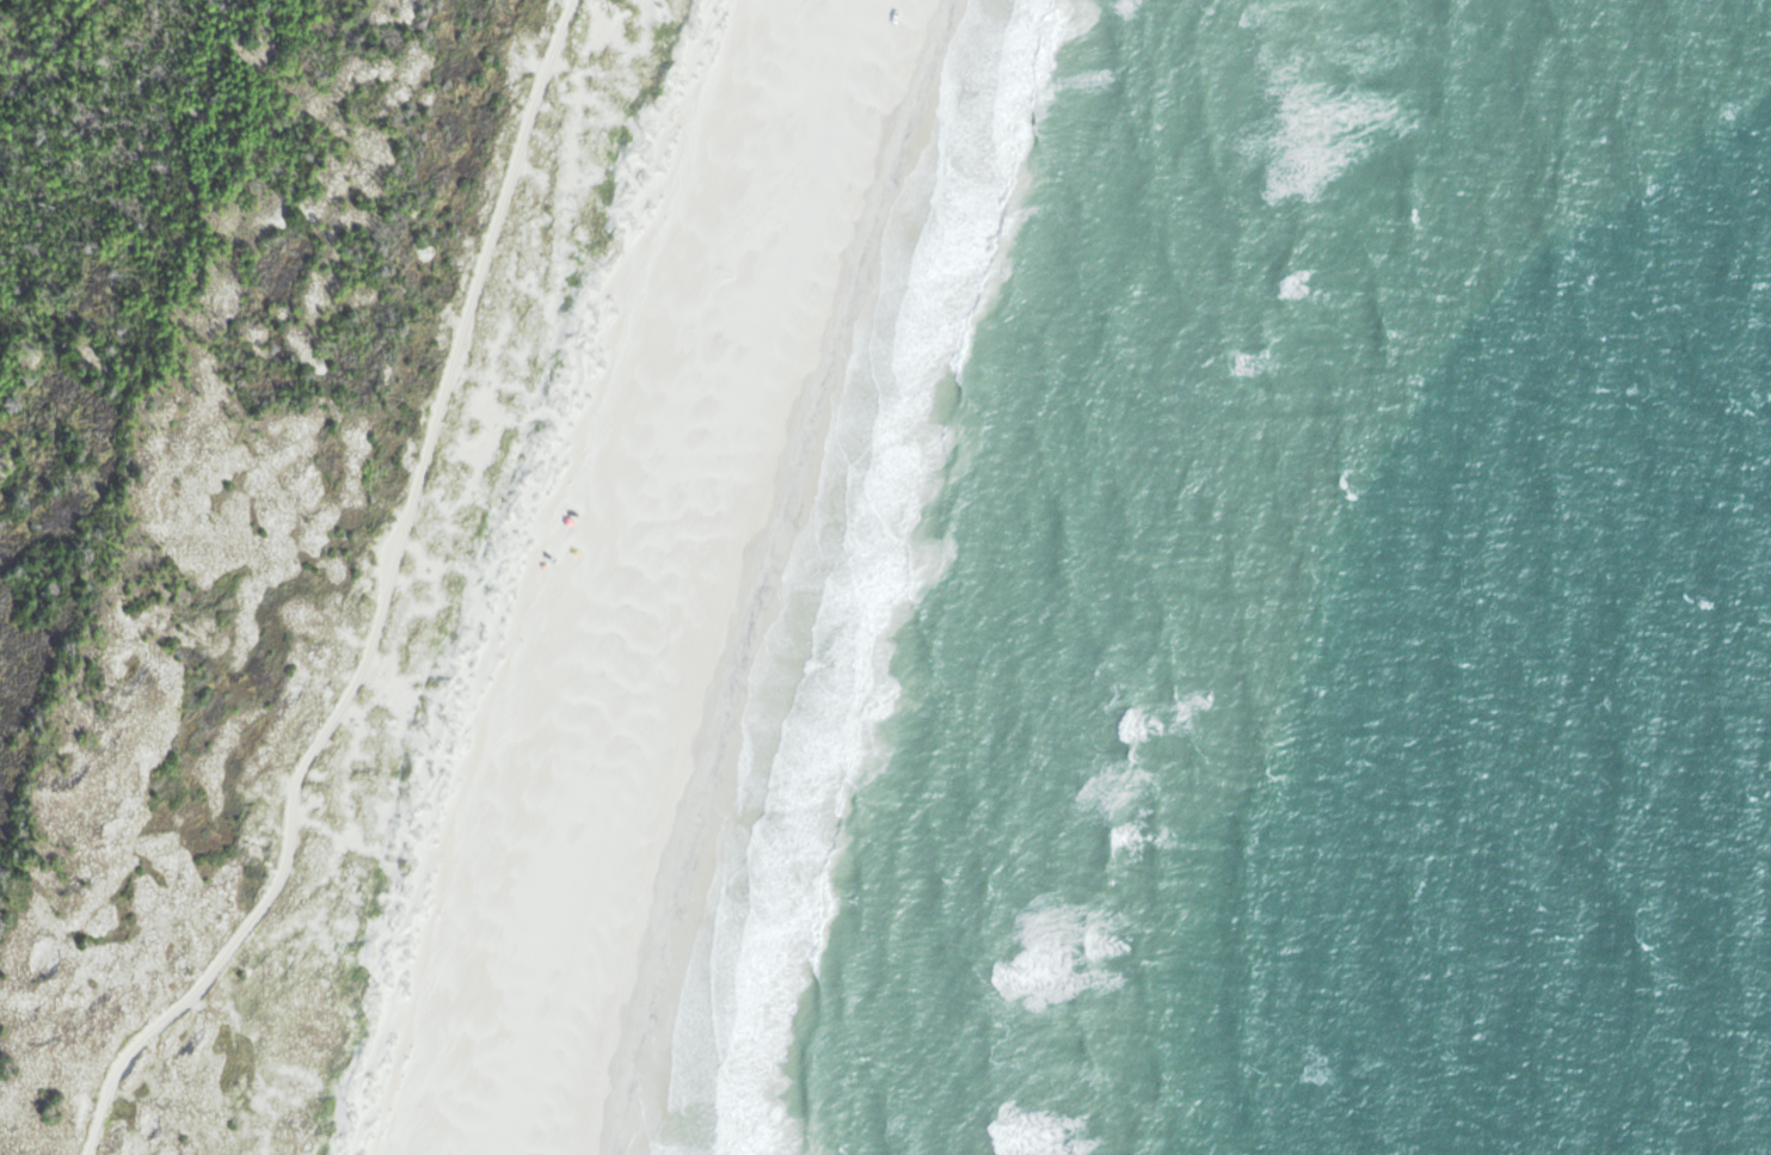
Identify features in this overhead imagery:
road: (0, 0)
road: (382, 607)

